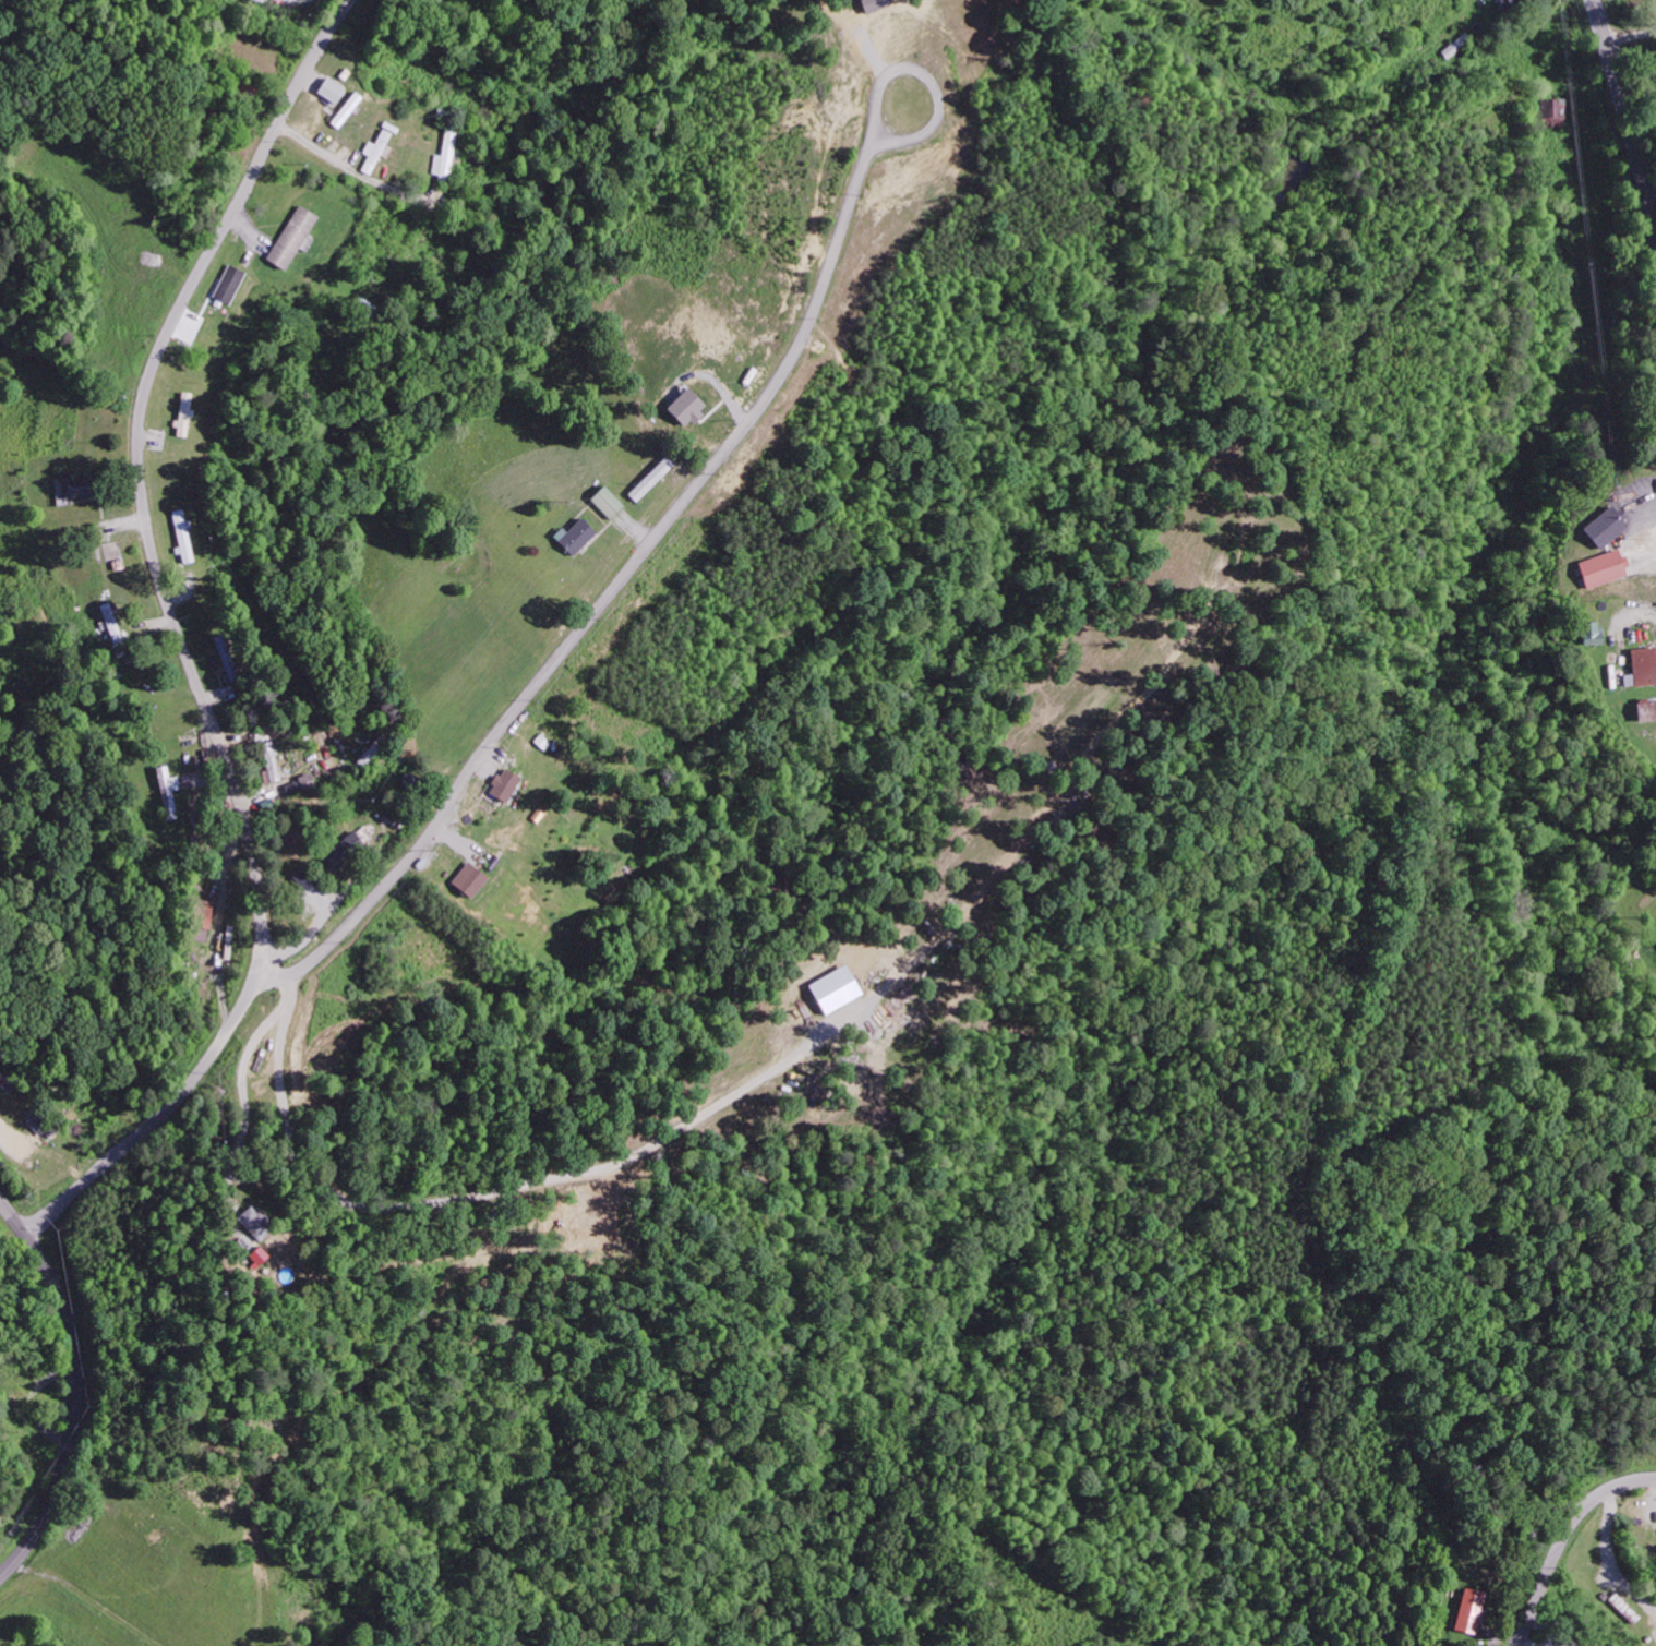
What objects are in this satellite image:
building: (1509, 1)
building: (872, 5)
building: (346, 110)
building: (1552, 112)
road: (1627, 115)
building: (375, 151)
building: (444, 157)
building: (290, 238)
building: (228, 285)
building: (685, 408)
building: (183, 414)
building: (650, 480)
building: (68, 489)
building: (607, 502)
road: (681, 505)
building: (1604, 526)
building: (183, 537)
building: (574, 537)
building: (1600, 567)
building: (1587, 632)
road: (180, 640)
building: (1643, 665)
building: (1645, 709)
building: (268, 761)
building: (305, 782)
building: (502, 784)
building: (167, 789)
building: (339, 850)
building: (298, 878)
building: (467, 879)
building: (200, 920)
building: (833, 989)
building: (40, 1128)
building: (251, 1218)
road: (76, 1389)
road: (1561, 1537)
building: (1468, 1611)

